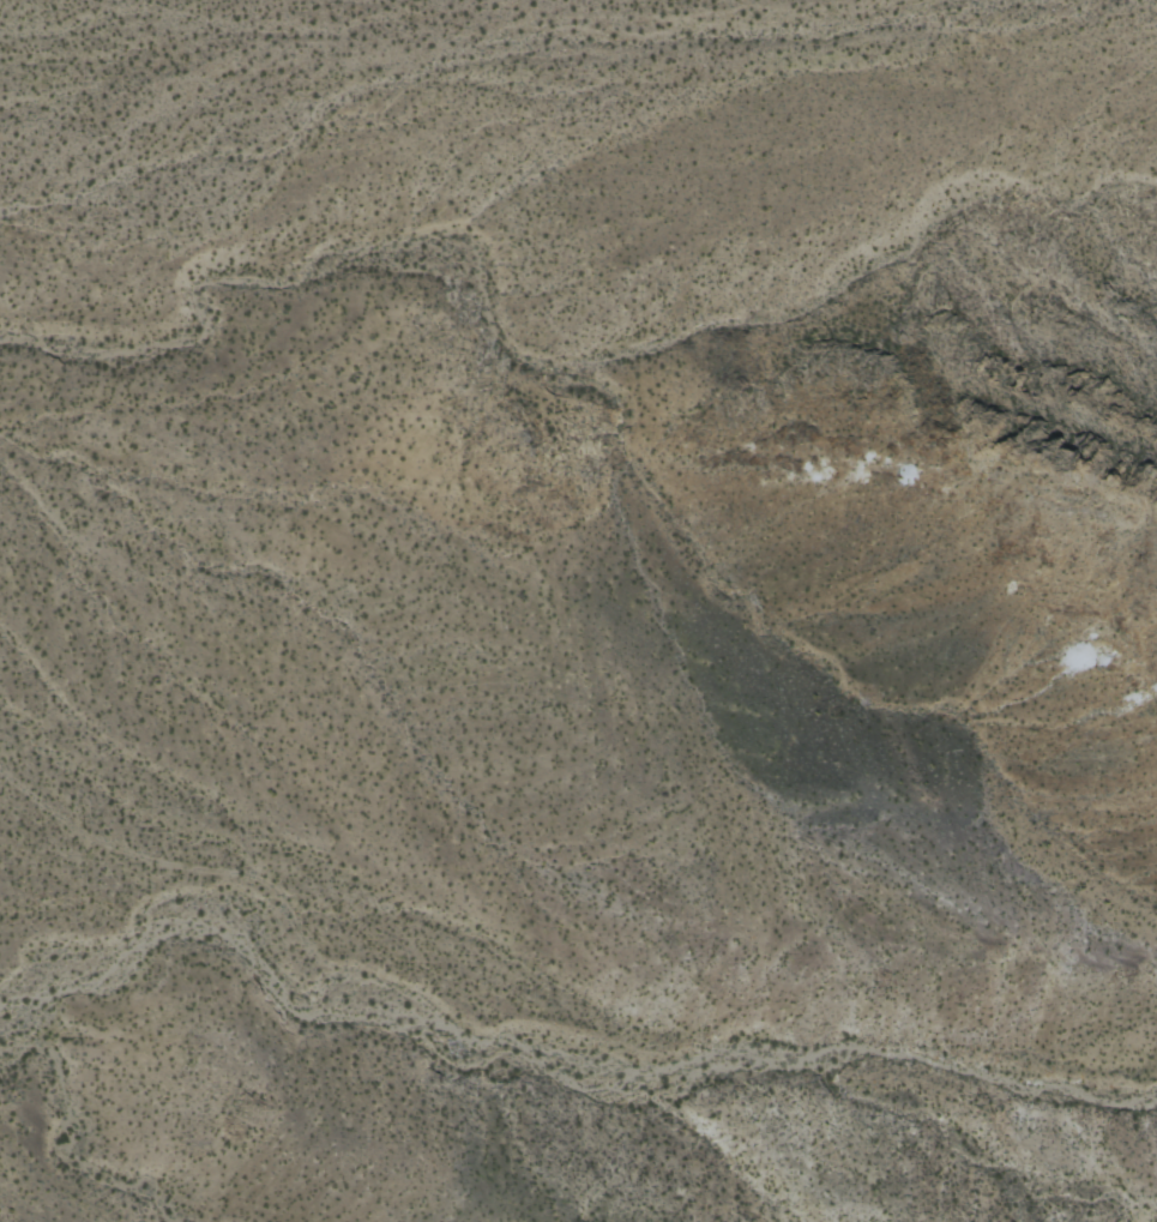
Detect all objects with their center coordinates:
road: (553, 986)

